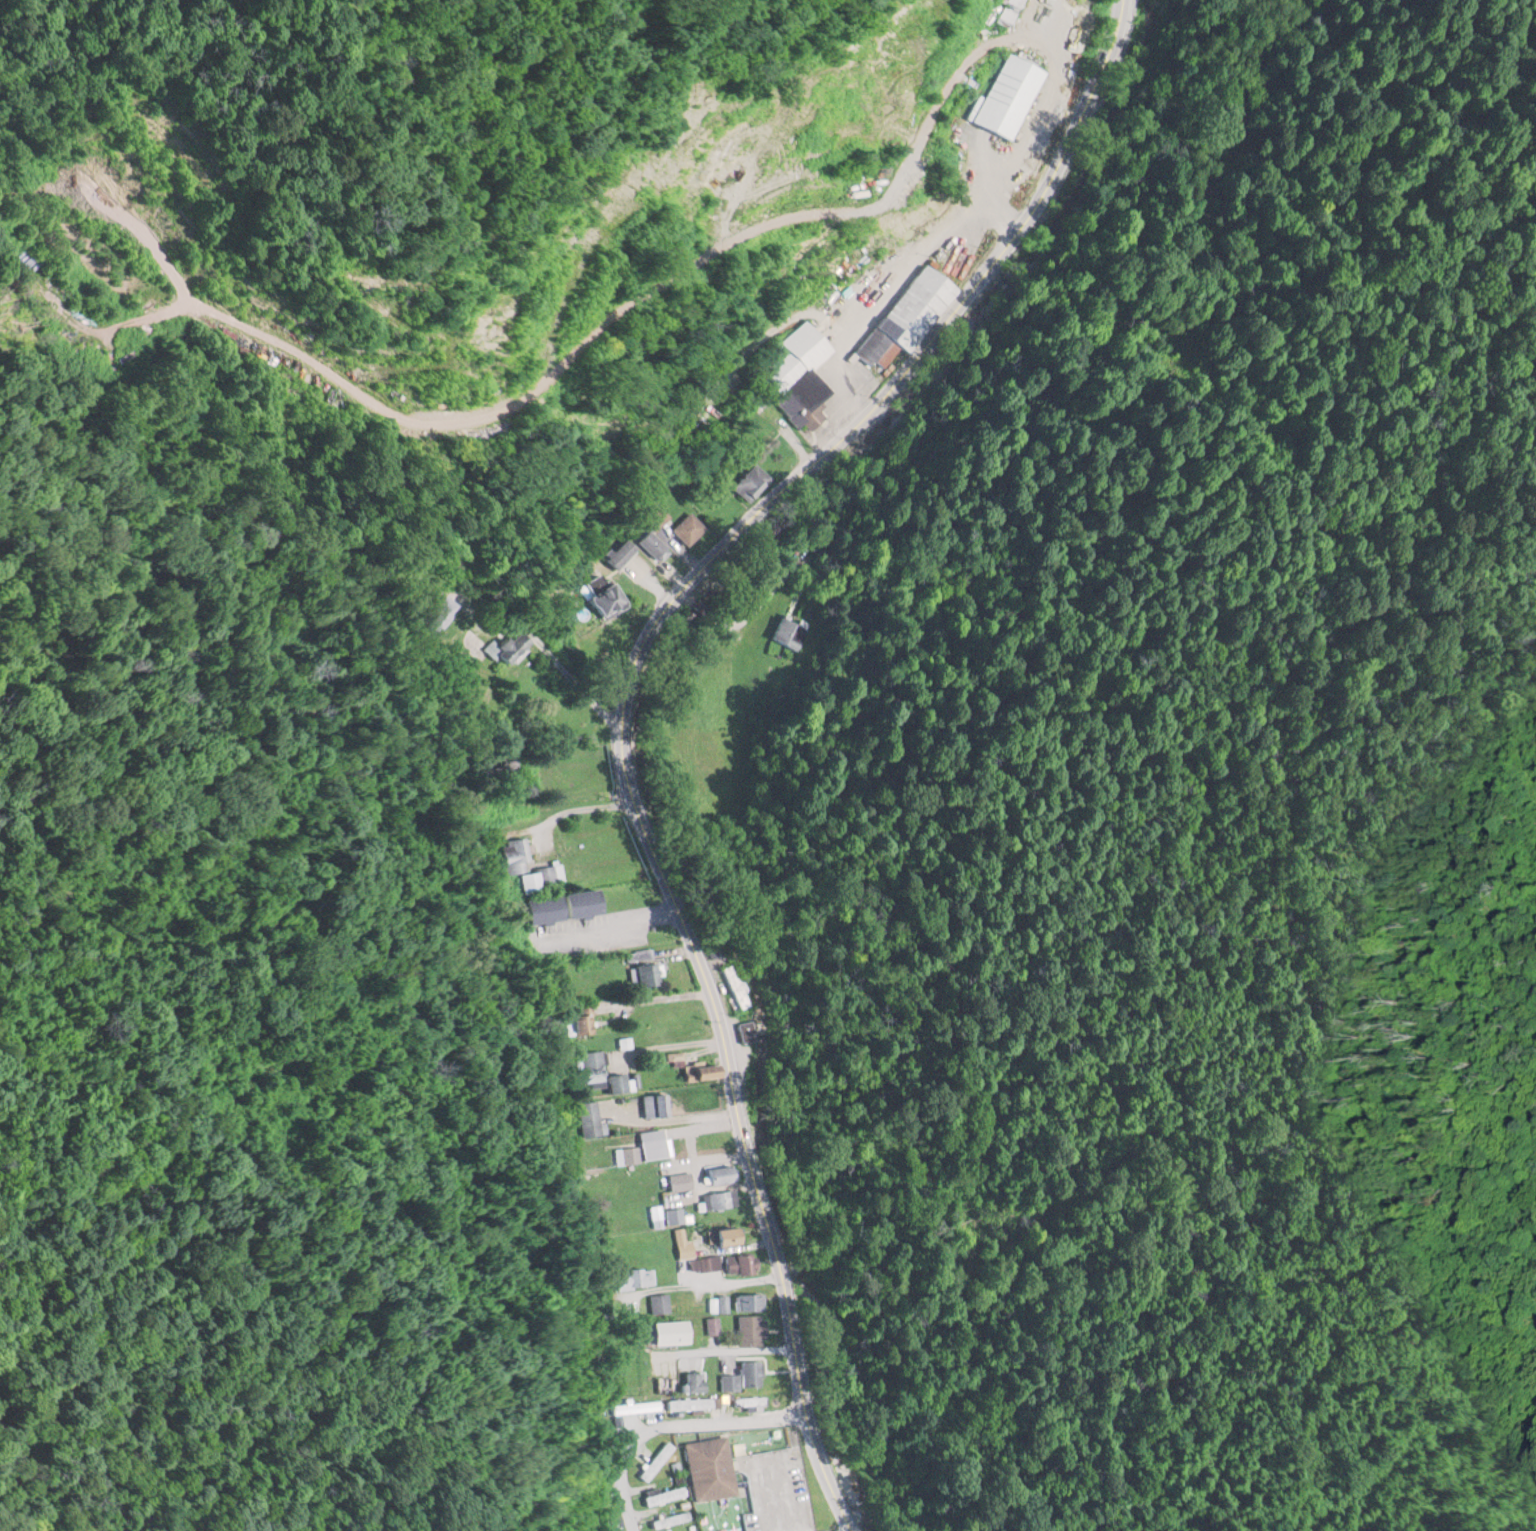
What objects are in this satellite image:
building: (1005, 8)
building: (1009, 96)
building: (906, 317)
building: (796, 376)
road: (879, 402)
building: (750, 482)
building: (688, 528)
building: (654, 531)
building: (618, 554)
building: (597, 594)
building: (437, 611)
building: (790, 632)
building: (487, 645)
road: (569, 671)
building: (511, 862)
road: (609, 926)
building: (641, 967)
building: (580, 1020)
building: (747, 1030)
building: (691, 1067)
building: (597, 1071)
building: (650, 1104)
building: (588, 1118)
building: (642, 1151)
road: (750, 1153)
building: (721, 1174)
building: (679, 1180)
building: (636, 1184)
building: (717, 1199)
building: (674, 1215)
building: (724, 1236)
building: (703, 1263)
building: (738, 1263)
building: (630, 1275)
building: (658, 1301)
building: (748, 1301)
building: (718, 1302)
building: (711, 1324)
building: (749, 1328)
building: (665, 1331)
building: (743, 1374)
building: (691, 1380)
building: (669, 1382)
building: (692, 1401)
building: (634, 1405)
road: (672, 1423)
building: (655, 1459)
building: (708, 1467)
building: (663, 1494)
building: (668, 1519)
building: (611, 1520)

